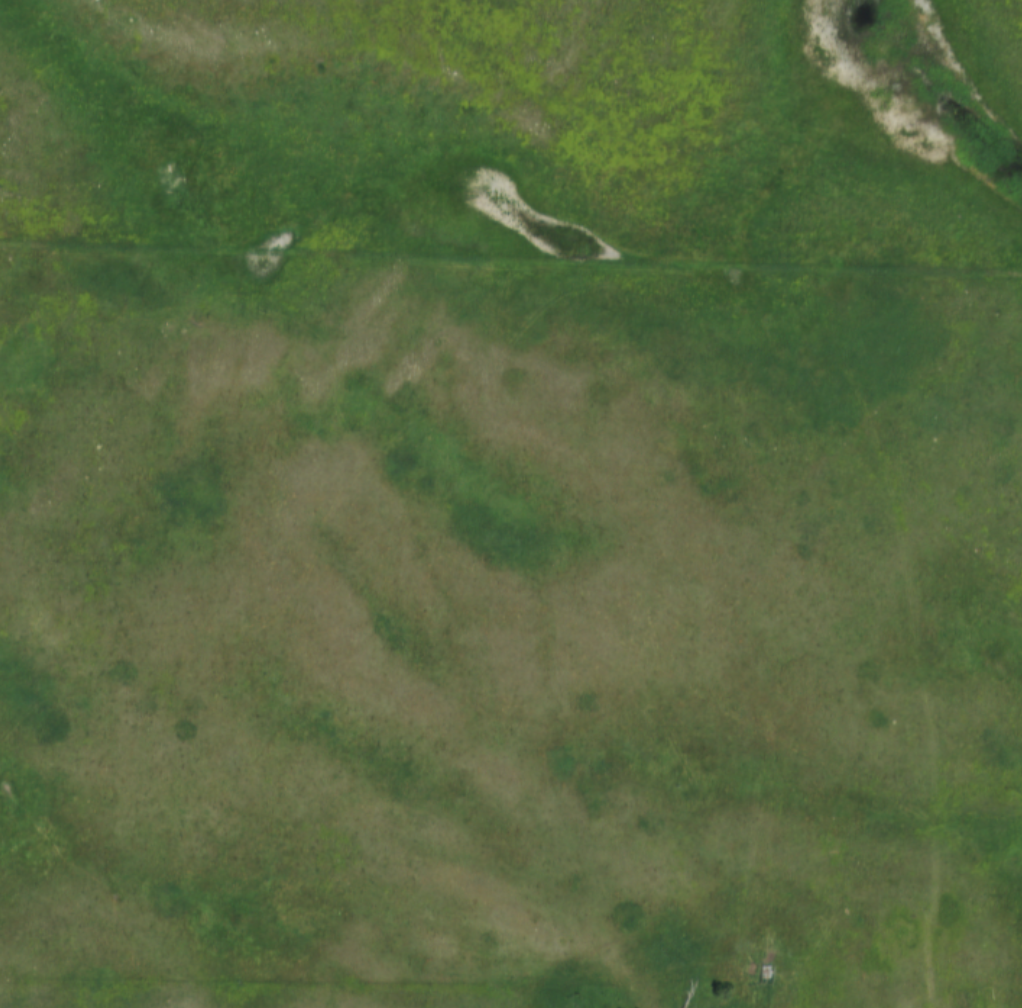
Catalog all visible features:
building: (767, 972)

